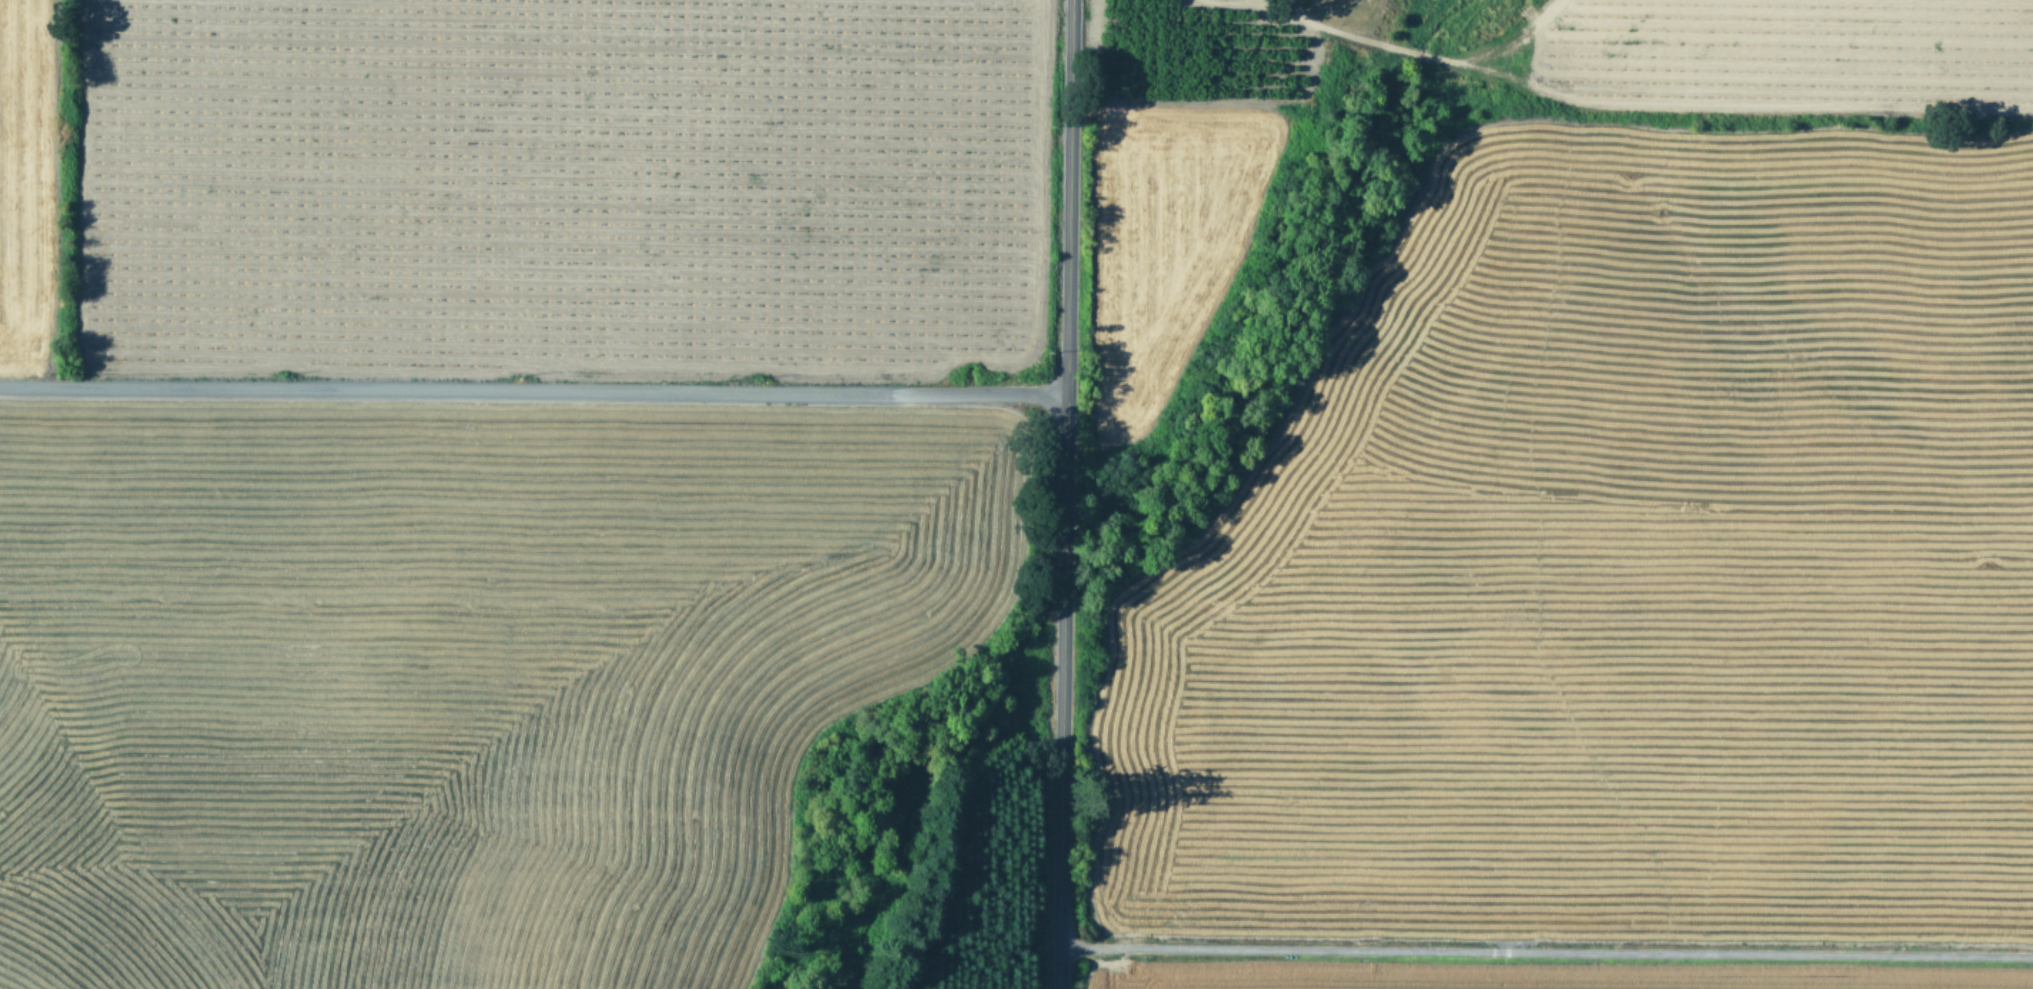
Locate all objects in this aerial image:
road: (532, 386)
road: (1063, 494)
crop: (1560, 553)
crop: (411, 655)
road: (1545, 950)

